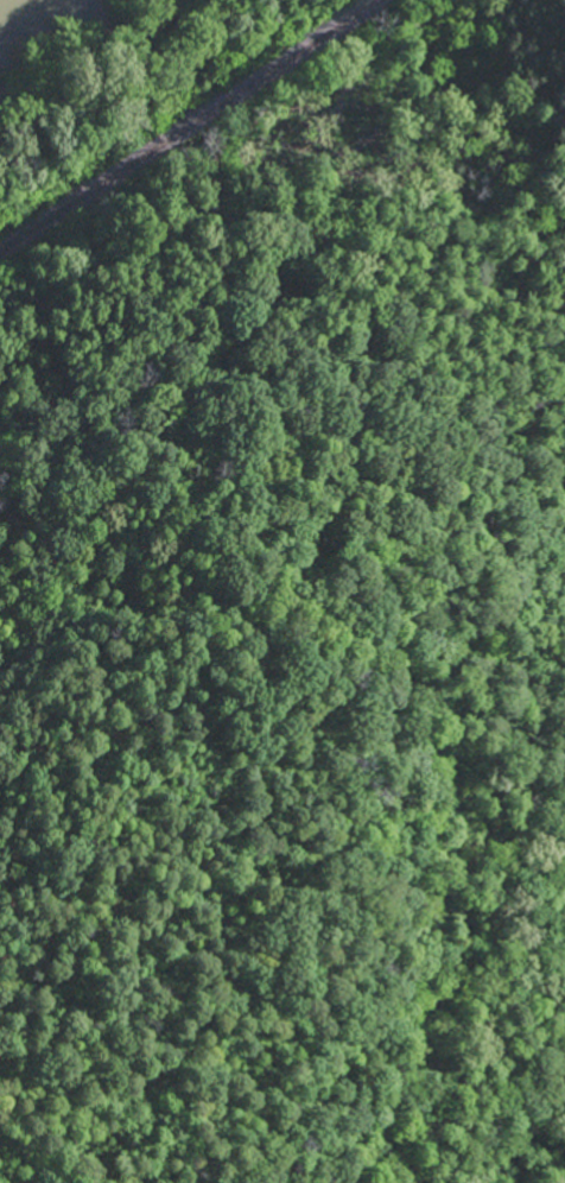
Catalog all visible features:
railway: (183, 124)

